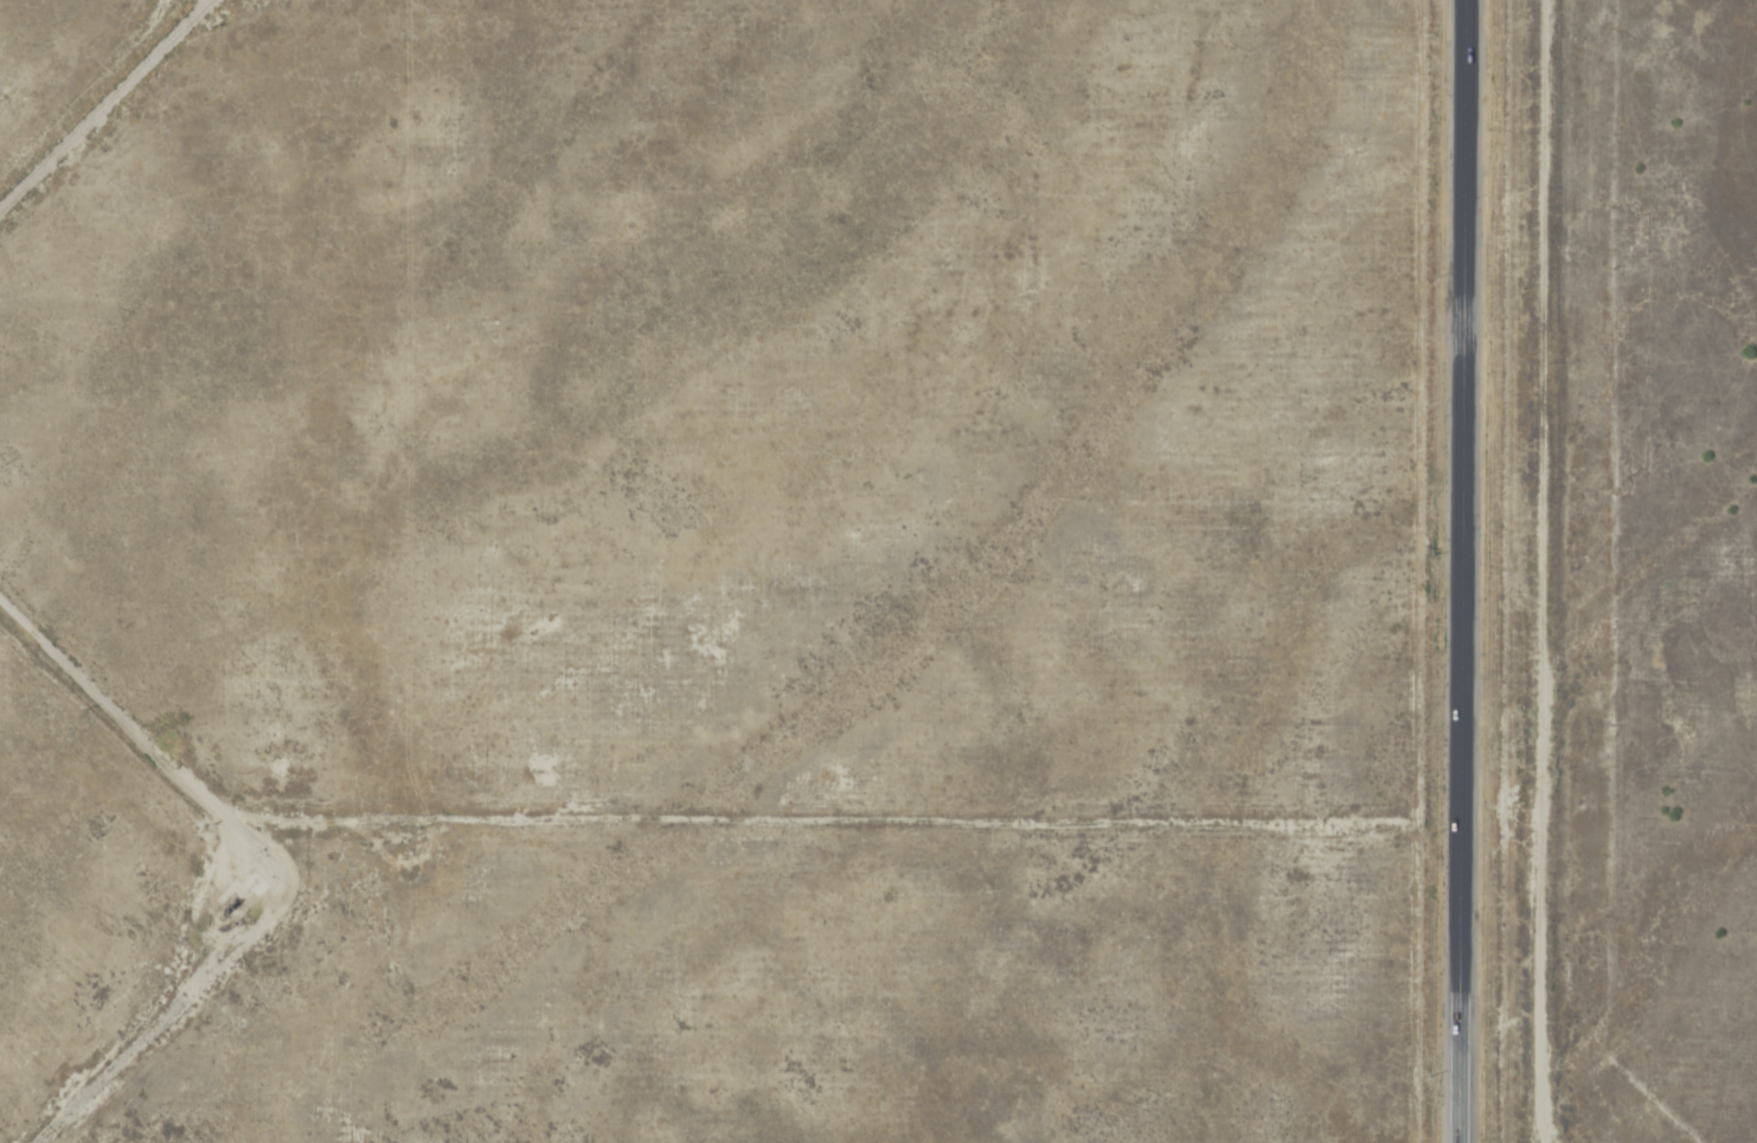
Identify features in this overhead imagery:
road: (109, 103)
road: (1463, 571)
road: (258, 862)

